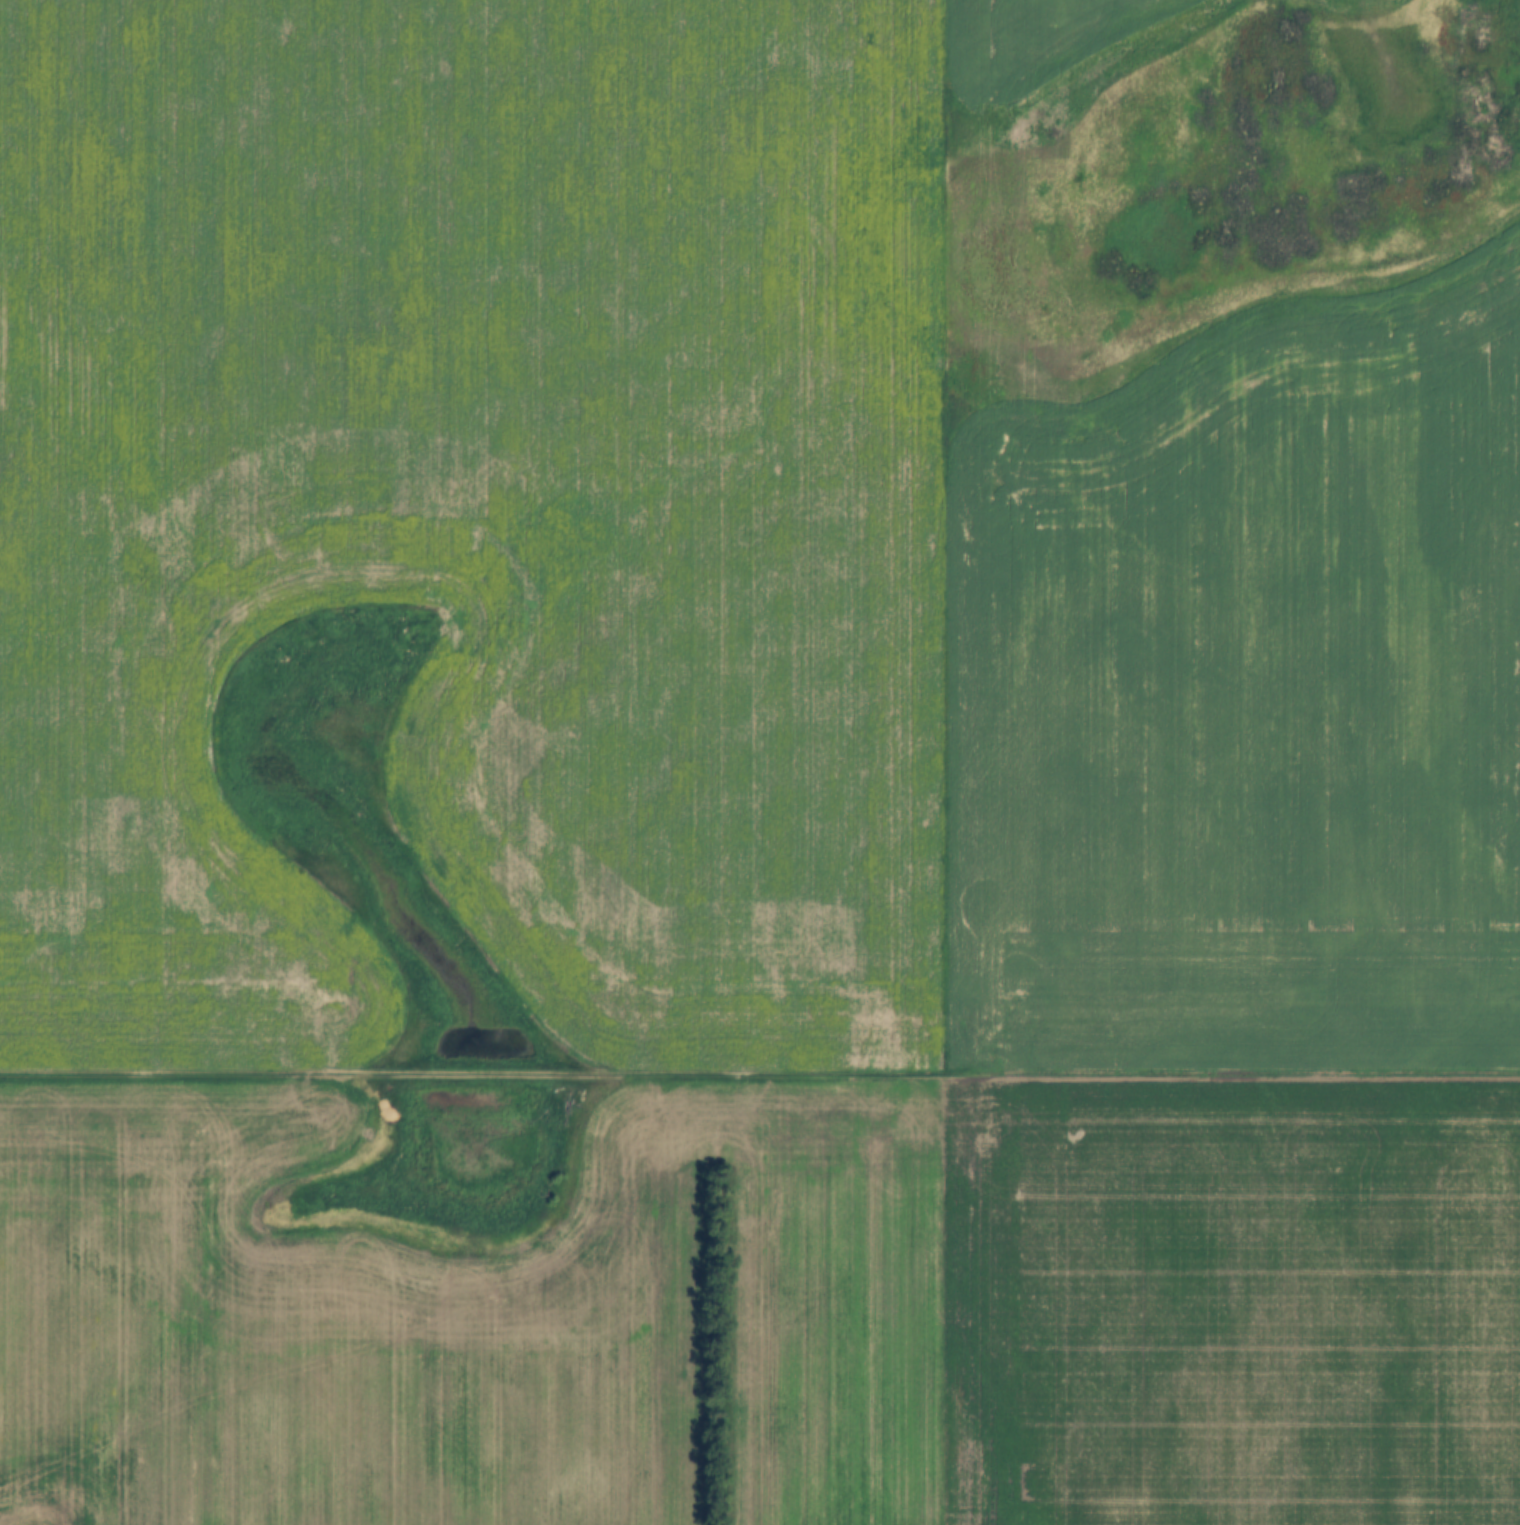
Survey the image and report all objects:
road: (760, 1075)

